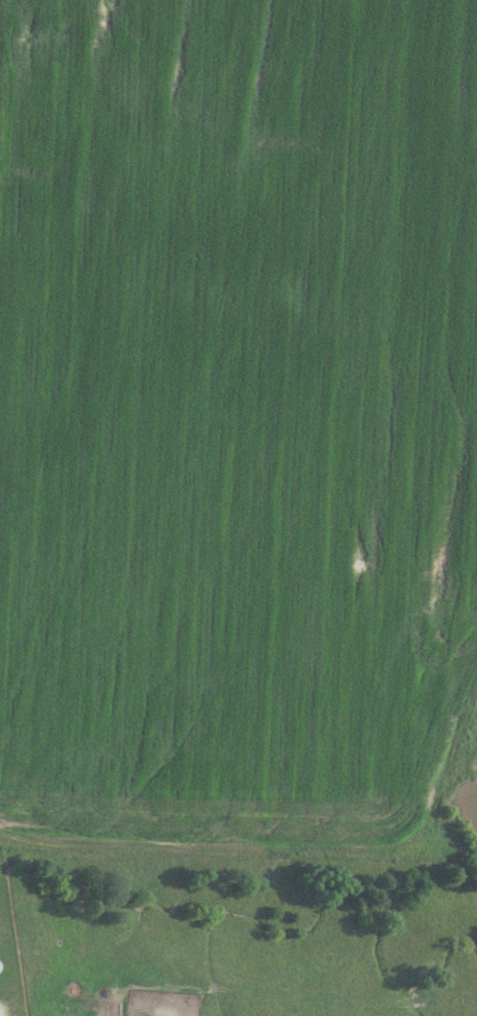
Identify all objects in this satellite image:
road: (3, 1009)

